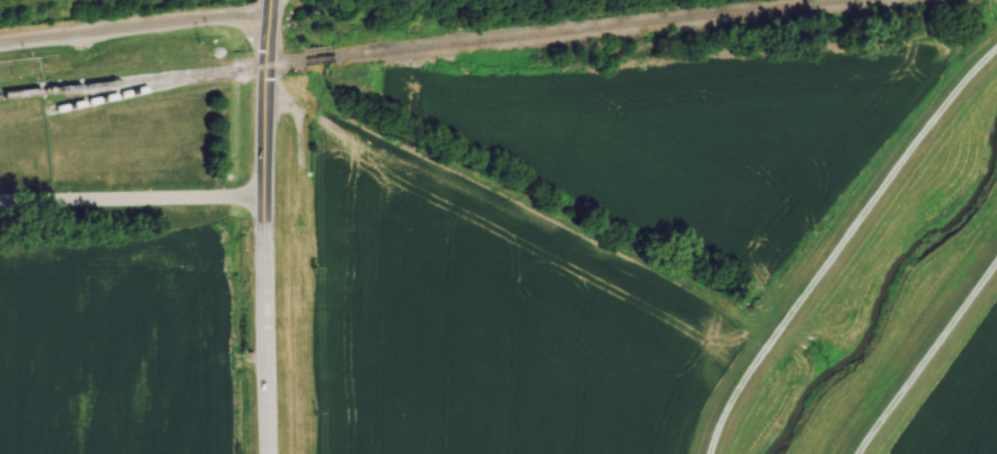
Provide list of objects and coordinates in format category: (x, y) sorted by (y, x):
road: (133, 24)
railway: (591, 30)
railway: (319, 59)
railway: (274, 63)
railway: (122, 81)
railway: (145, 88)
crop: (683, 130)
road: (130, 198)
road: (261, 226)
road: (843, 245)
crop: (486, 323)
road: (927, 356)
crop: (965, 406)

